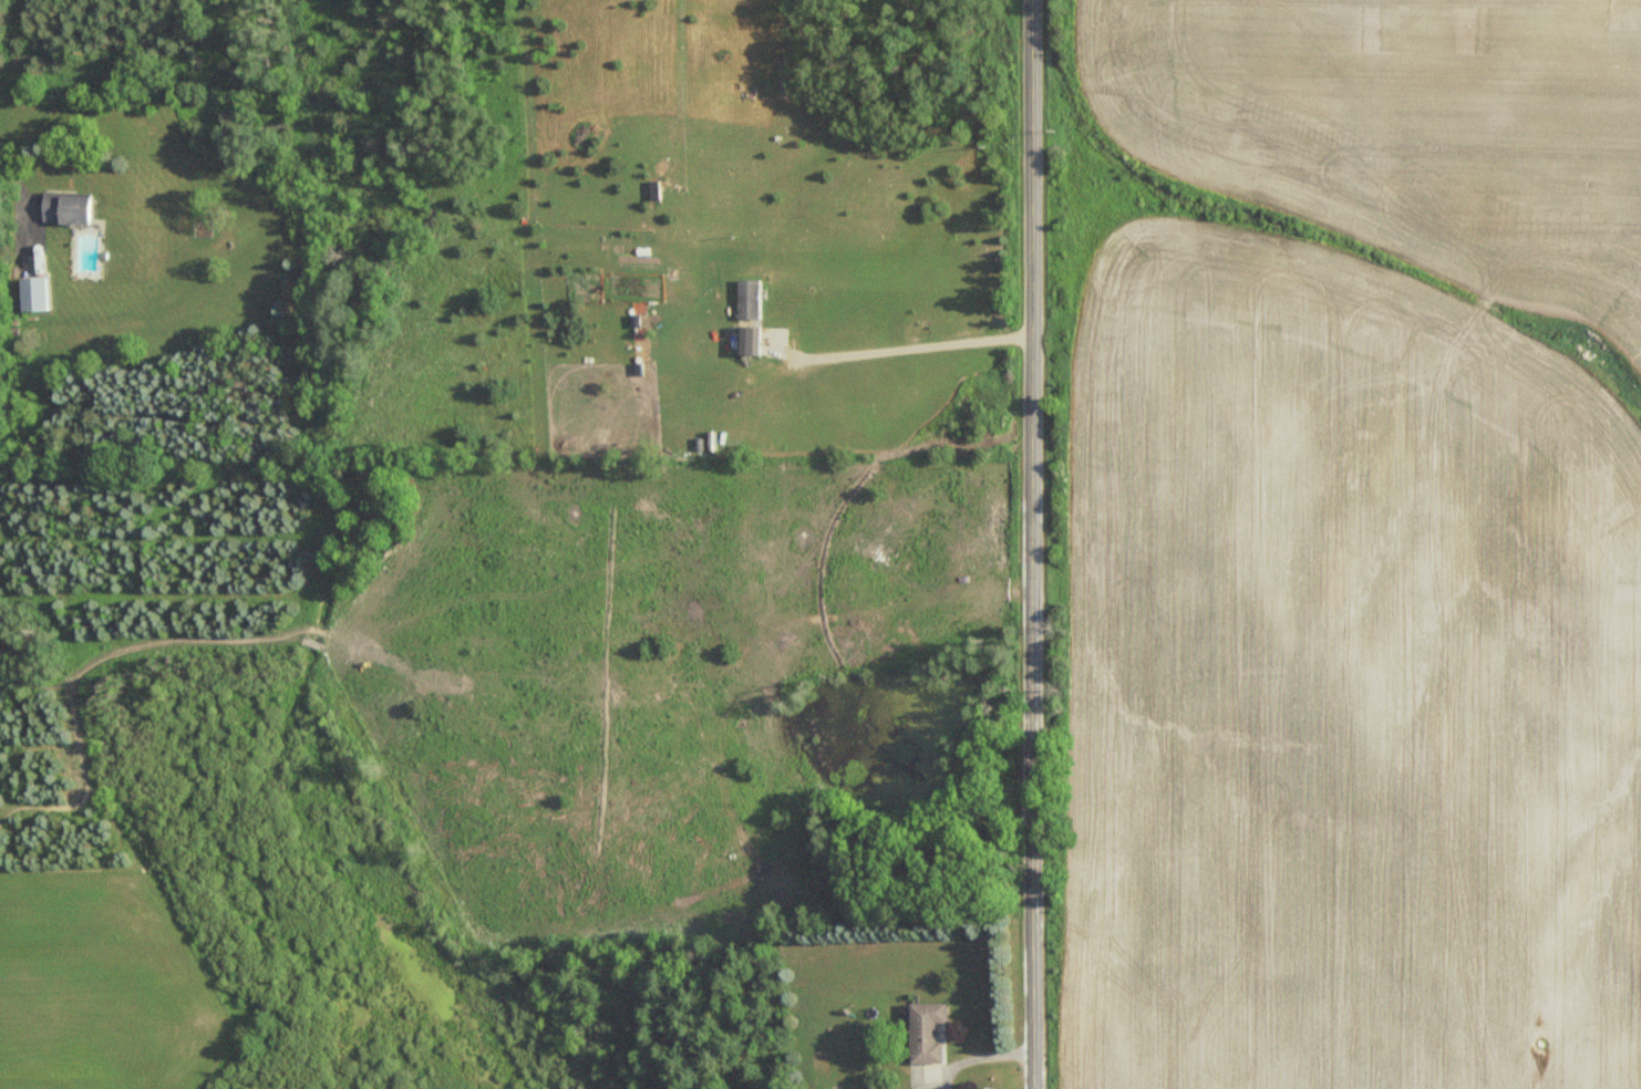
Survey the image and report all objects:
building: (65, 207)
building: (34, 294)
building: (747, 299)
building: (746, 340)
road: (1031, 544)
building: (926, 1031)

